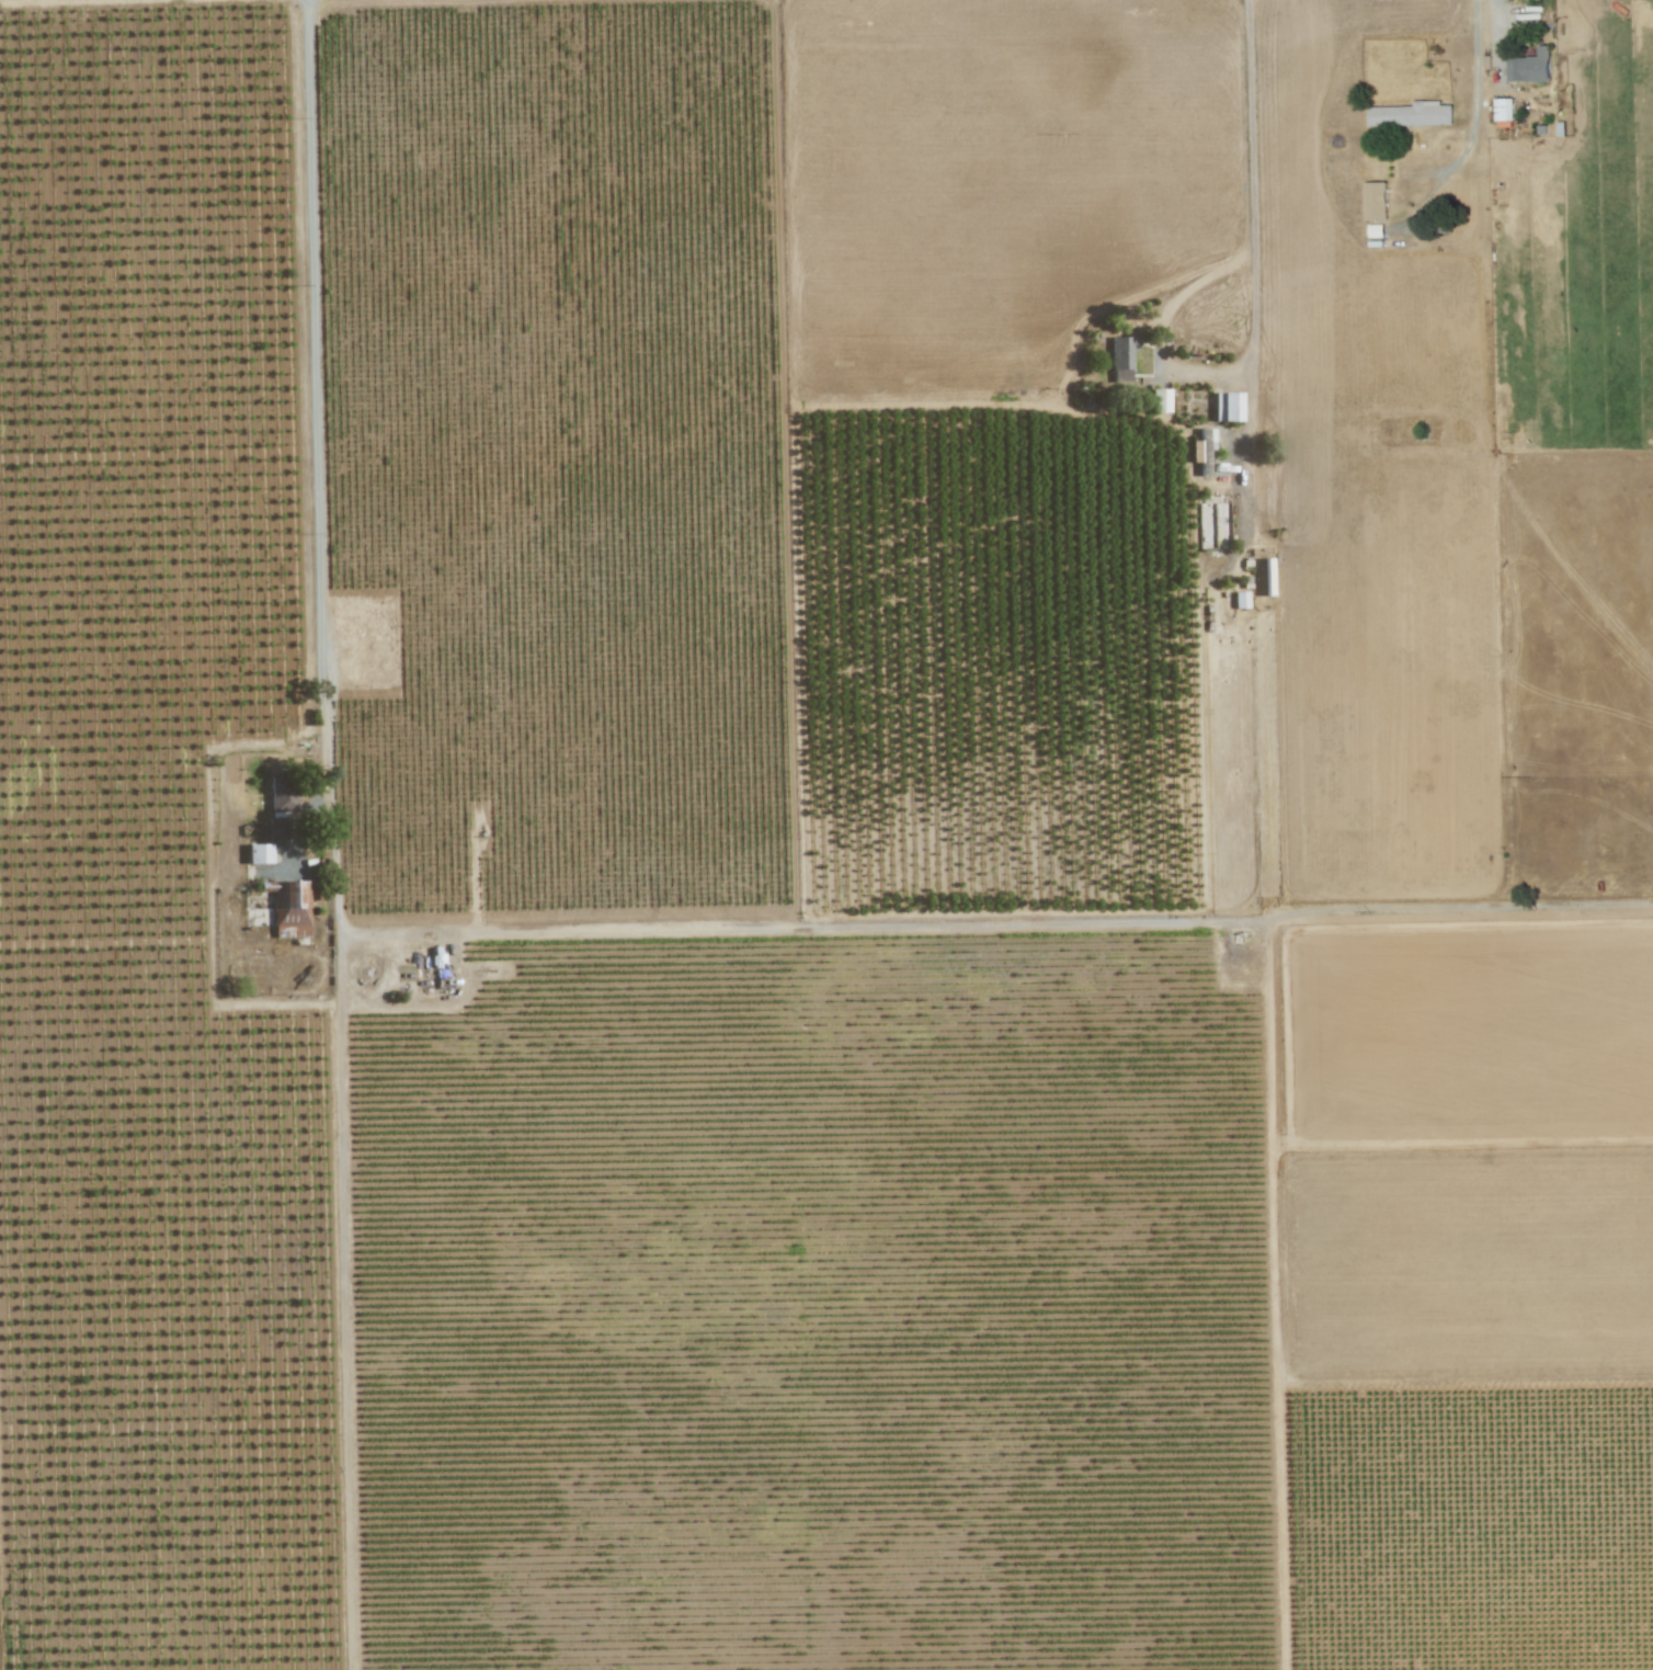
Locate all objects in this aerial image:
building: (1529, 67)
building: (1503, 110)
building: (1410, 115)
road: (1472, 121)
road: (1246, 124)
building: (1375, 201)
building: (1121, 359)
road: (1177, 363)
building: (1159, 400)
building: (1226, 407)
building: (1202, 452)
road: (327, 472)
building: (281, 796)
building: (275, 829)
building: (258, 854)
building: (288, 908)
road: (345, 1307)

